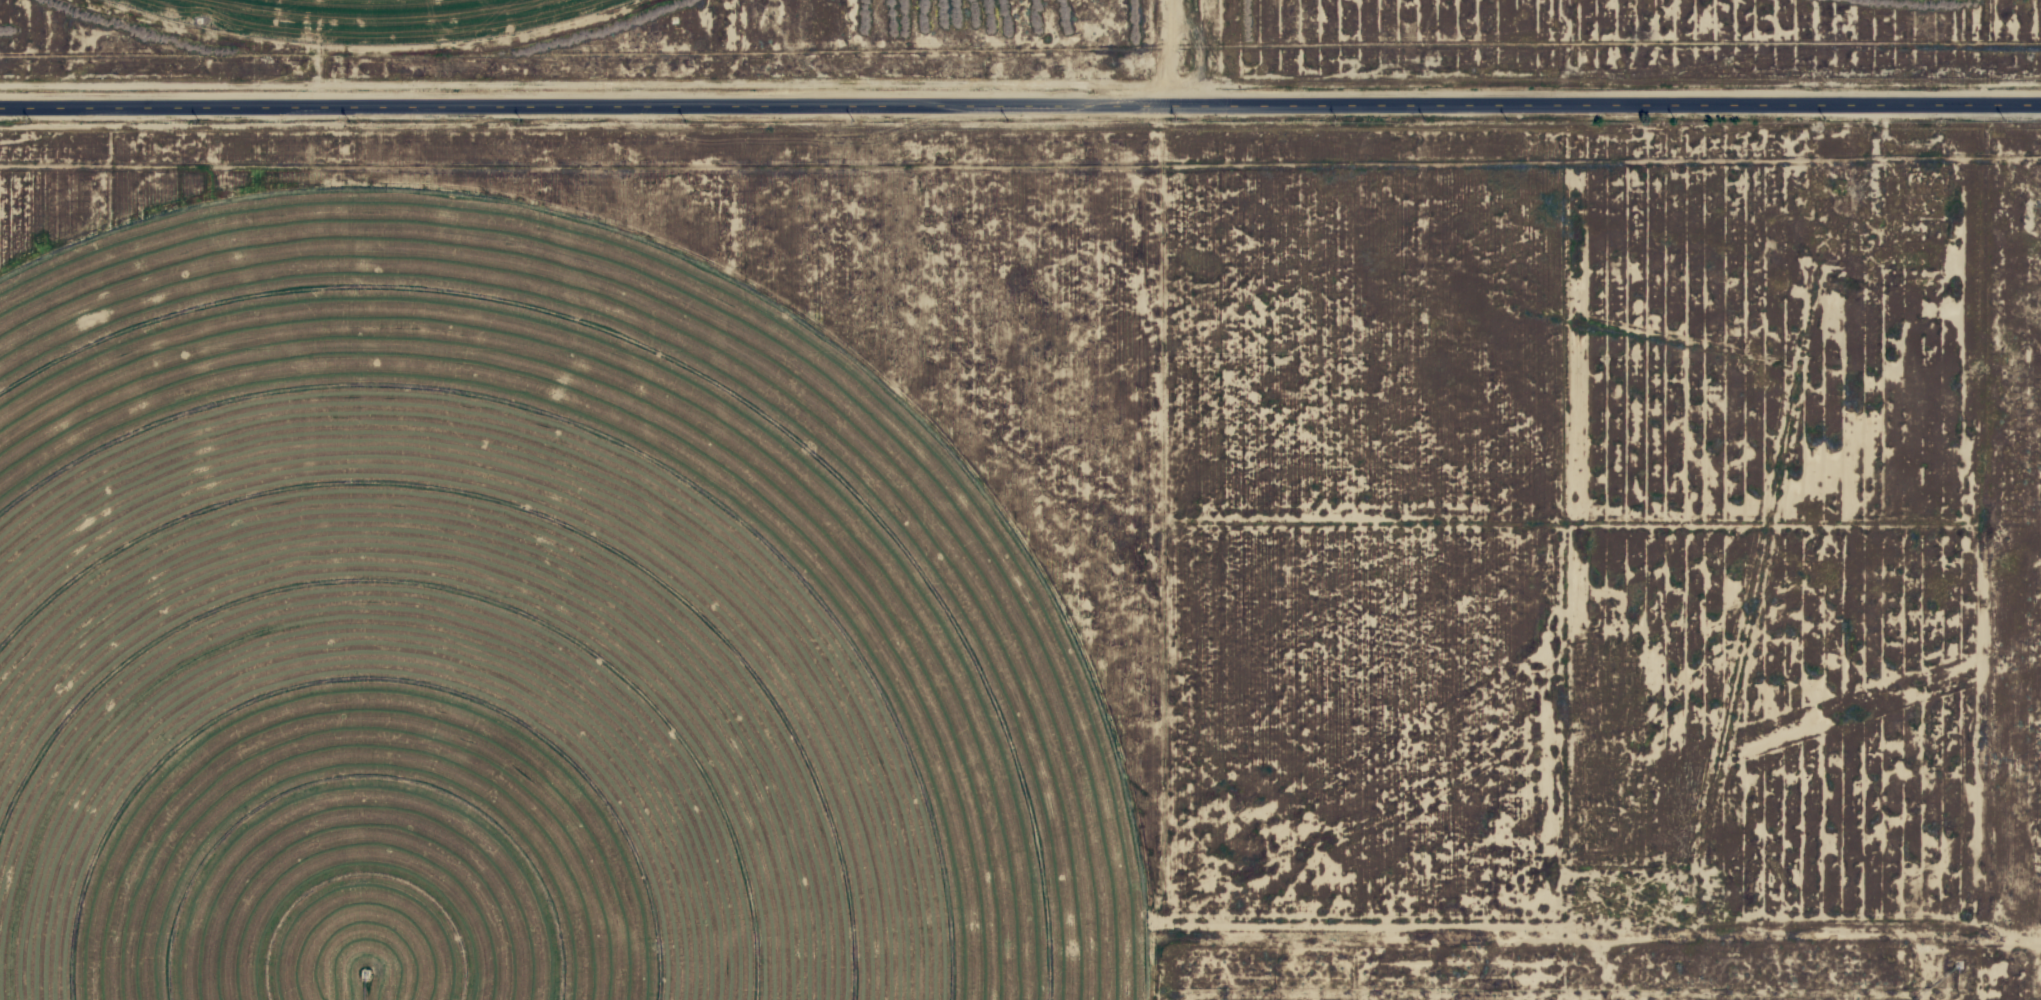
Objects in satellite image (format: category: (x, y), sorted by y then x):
crop: (361, 21)
road: (1020, 117)
road: (1109, 500)
road: (1977, 528)
road: (1913, 537)
crop: (511, 641)
road: (1575, 981)
road: (1812, 988)

